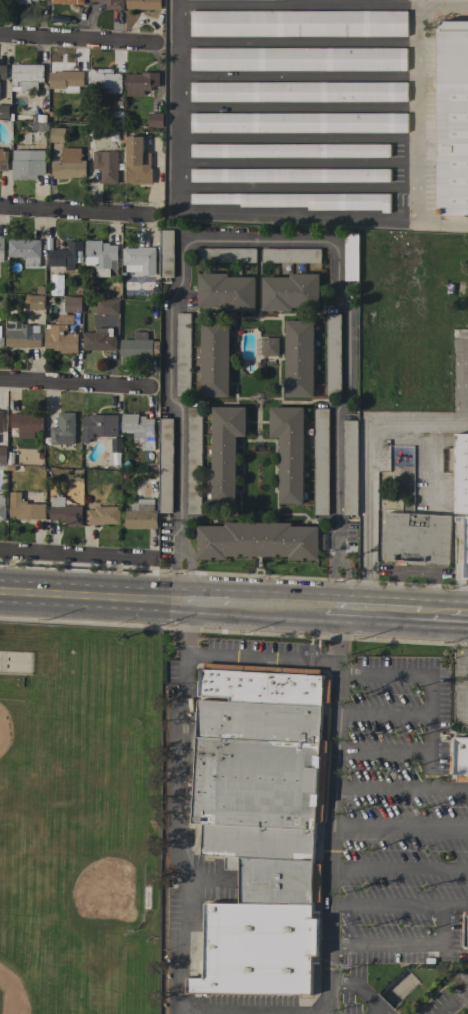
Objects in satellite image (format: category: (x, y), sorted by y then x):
building: (5, 1)
building: (23, 1)
building: (68, 1)
road: (407, 1)
road: (442, 2)
building: (112, 4)
building: (144, 4)
building: (299, 23)
road: (76, 38)
building: (299, 59)
building: (3, 72)
building: (27, 76)
building: (66, 79)
building: (104, 81)
building: (141, 83)
building: (299, 91)
building: (4, 111)
building: (116, 118)
building: (453, 118)
building: (155, 120)
building: (299, 122)
building: (57, 135)
building: (290, 150)
building: (3, 160)
building: (137, 162)
building: (27, 164)
building: (70, 164)
building: (108, 165)
building: (290, 175)
building: (301, 200)
road: (75, 213)
road: (218, 213)
road: (263, 241)
building: (1, 249)
building: (25, 250)
building: (167, 253)
building: (65, 255)
building: (227, 255)
building: (291, 255)
building: (101, 257)
building: (351, 257)
building: (140, 259)
building: (227, 292)
building: (291, 292)
building: (34, 301)
building: (72, 304)
building: (108, 307)
building: (68, 317)
building: (23, 336)
building: (1, 339)
building: (60, 339)
building: (99, 340)
building: (139, 346)
building: (270, 346)
building: (183, 354)
building: (334, 355)
building: (215, 358)
building: (299, 359)
road: (74, 384)
building: (1, 421)
building: (27, 424)
building: (99, 426)
building: (138, 427)
building: (63, 429)
building: (116, 444)
building: (225, 451)
building: (289, 451)
building: (2, 455)
building: (11, 456)
building: (194, 461)
building: (322, 461)
building: (165, 465)
building: (350, 467)
building: (461, 473)
road: (369, 479)
building: (2, 508)
building: (25, 508)
building: (65, 512)
building: (103, 515)
building: (141, 517)
building: (417, 539)
building: (259, 540)
building: (379, 544)
building: (466, 547)
road: (76, 557)
road: (86, 602)
road: (199, 609)
road: (245, 613)
road: (292, 615)
road: (327, 617)
road: (376, 620)
road: (432, 624)
road: (457, 625)
road: (260, 657)
building: (265, 685)
road: (429, 703)
road: (381, 713)
road: (381, 749)
building: (460, 759)
building: (259, 779)
road: (385, 790)
road: (332, 816)
road: (400, 829)
road: (399, 868)
building: (277, 880)
road: (185, 882)
road: (399, 903)
building: (465, 925)
road: (404, 944)
building: (259, 949)
road: (343, 986)
road: (373, 1000)
road: (450, 1000)
road: (181, 1011)
road: (306, 1013)

